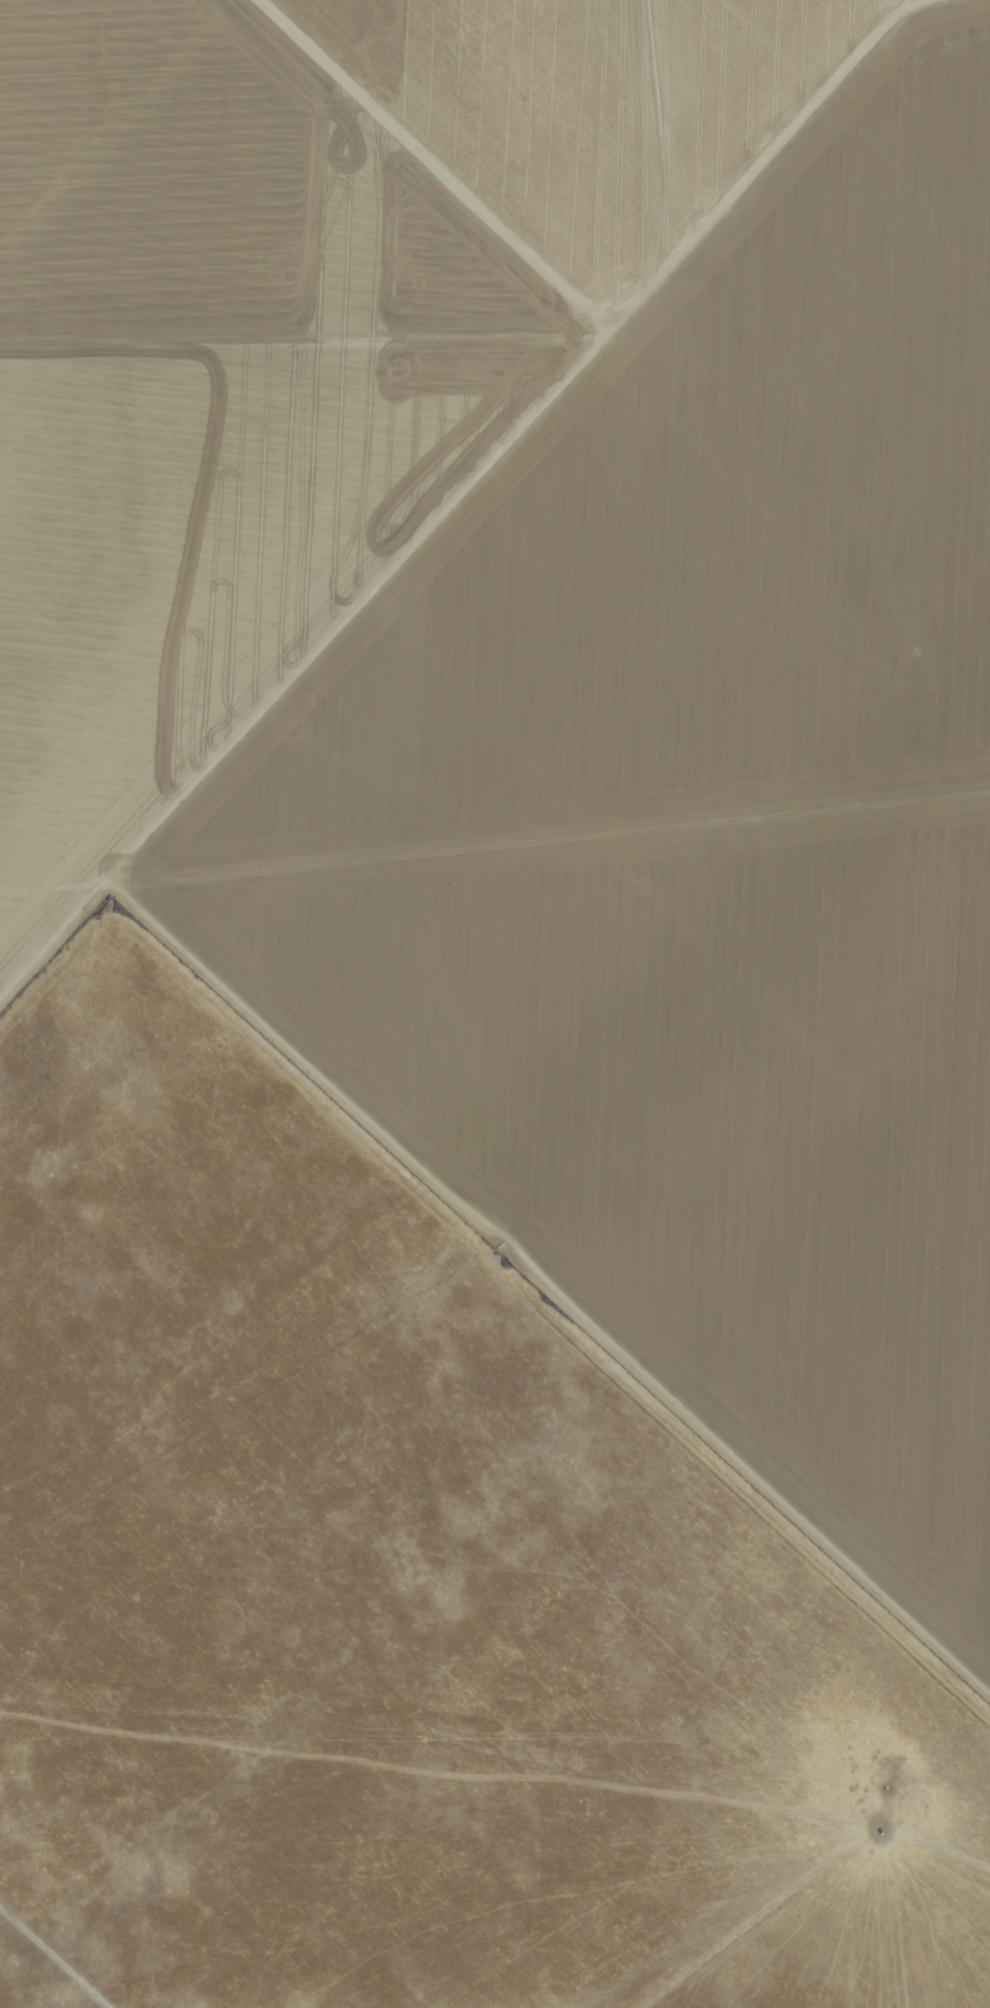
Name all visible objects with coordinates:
crop: (118, 407)
crop: (741, 768)

